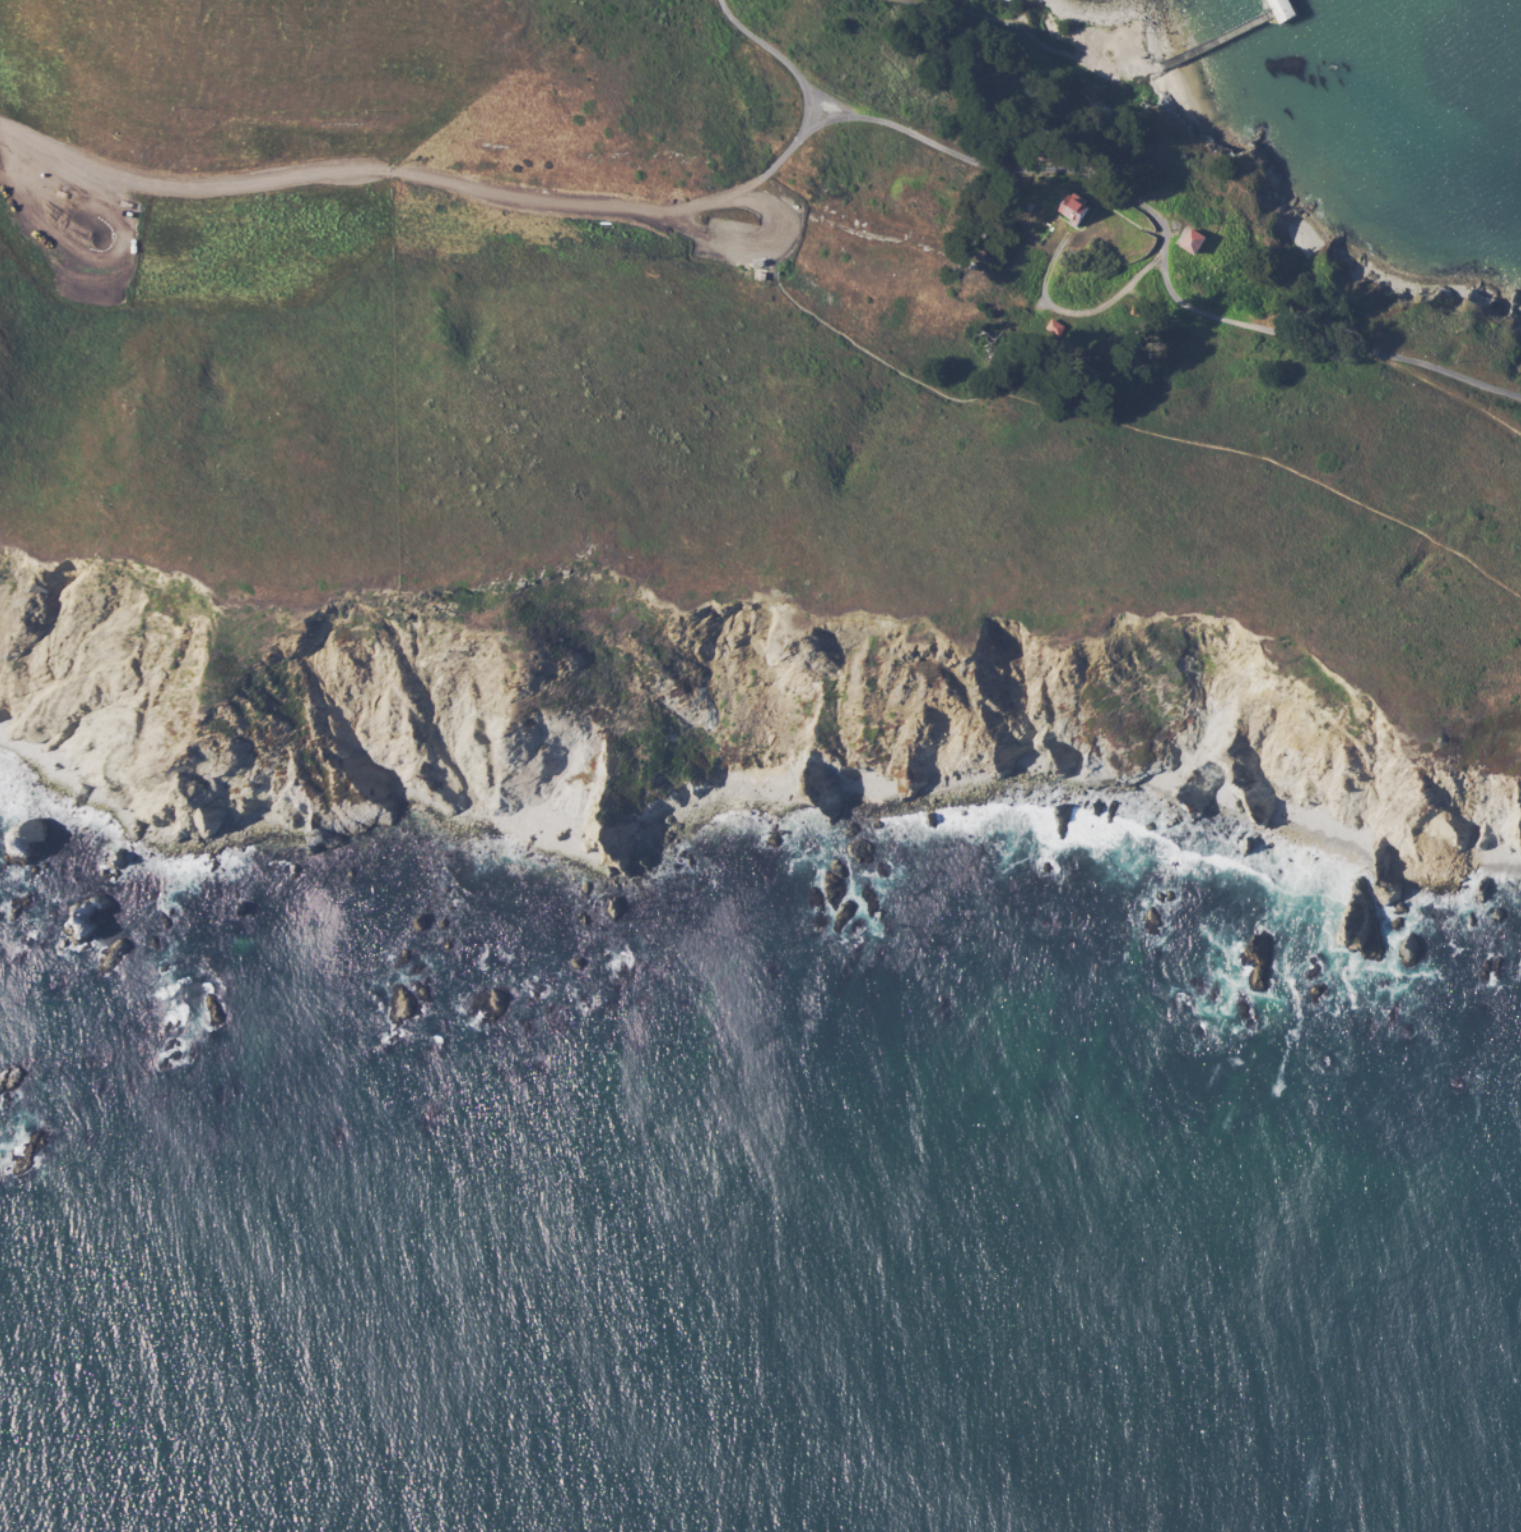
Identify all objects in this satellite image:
building: (1283, 9)
road: (1009, 22)
pier: (1240, 29)
road: (780, 61)
road: (773, 169)
road: (324, 174)
road: (1068, 195)
building: (1030, 204)
road: (699, 206)
building: (1074, 210)
road: (1121, 214)
road: (1078, 228)
parking lot: (747, 230)
road: (1174, 232)
building: (1193, 241)
road: (748, 244)
road: (1164, 245)
road: (748, 259)
building: (980, 260)
storage tank: (980, 260)
building: (759, 262)
road: (749, 264)
building: (761, 274)
road: (1073, 310)
building: (1137, 311)
building: (1054, 326)
road: (1441, 388)
road: (1126, 428)

